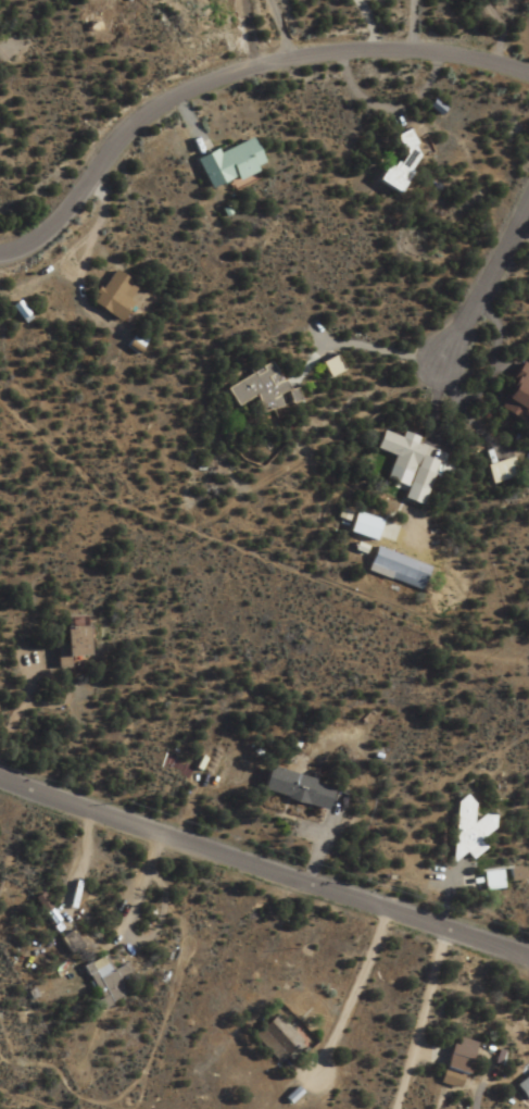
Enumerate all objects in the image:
road: (366, 27)
road: (414, 28)
road: (277, 32)
road: (250, 34)
road: (232, 74)
road: (388, 108)
road: (189, 123)
building: (398, 162)
building: (226, 164)
road: (100, 228)
road: (484, 281)
building: (111, 295)
building: (17, 312)
road: (356, 345)
building: (327, 366)
building: (255, 389)
building: (514, 394)
road: (311, 446)
road: (436, 459)
building: (405, 464)
building: (496, 471)
building: (360, 526)
road: (252, 551)
building: (393, 569)
building: (62, 645)
building: (291, 789)
building: (465, 830)
road: (263, 872)
building: (511, 875)
building: (489, 881)
building: (104, 980)
road: (357, 1000)
road: (426, 1023)
building: (274, 1038)
building: (453, 1062)
road: (43, 1096)

